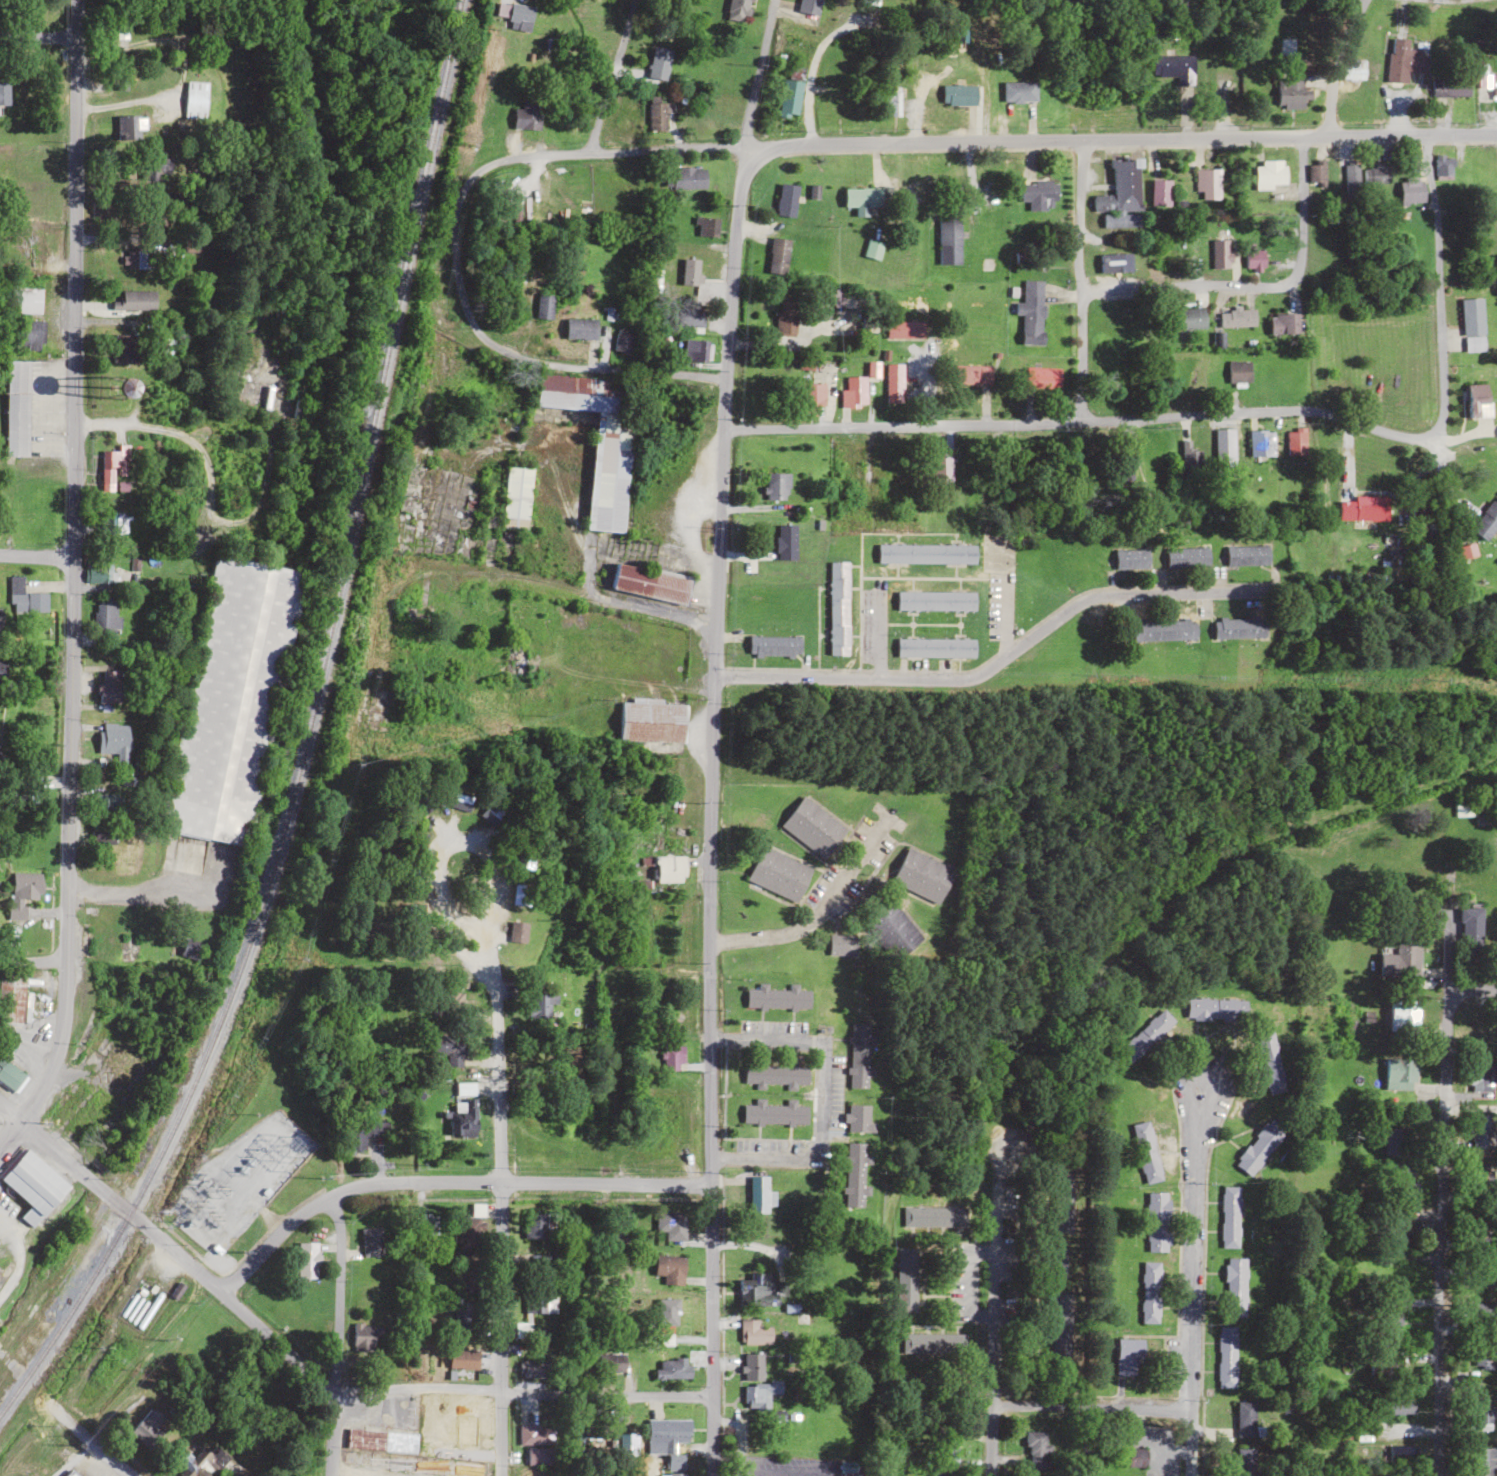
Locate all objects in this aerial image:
building: (868, 3)
building: (809, 6)
building: (738, 10)
building: (520, 17)
road: (37, 35)
building: (1402, 63)
building: (659, 64)
road: (1331, 64)
building: (1174, 68)
building: (1353, 70)
road: (610, 76)
building: (795, 78)
building: (1452, 86)
building: (1019, 92)
building: (4, 93)
building: (1290, 93)
building: (959, 95)
building: (195, 100)
building: (890, 101)
building: (658, 114)
building: (527, 116)
building: (618, 125)
building: (127, 127)
road: (1118, 139)
building: (1444, 165)
building: (1317, 174)
building: (1270, 175)
building: (1377, 175)
building: (688, 178)
building: (1351, 180)
building: (1207, 185)
building: (1122, 188)
building: (1412, 190)
building: (1161, 193)
building: (1039, 195)
building: (865, 197)
building: (786, 201)
building: (1122, 220)
building: (706, 227)
building: (949, 236)
road: (452, 245)
building: (872, 250)
building: (1220, 255)
building: (778, 257)
building: (132, 259)
building: (1254, 260)
road: (1078, 280)
road: (1257, 285)
building: (131, 291)
building: (25, 300)
building: (848, 300)
building: (1032, 313)
building: (690, 318)
building: (786, 318)
building: (1191, 318)
building: (1237, 318)
building: (542, 319)
building: (1284, 324)
building: (1473, 325)
building: (580, 329)
building: (904, 330)
building: (27, 335)
building: (622, 343)
building: (121, 349)
building: (697, 351)
building: (1240, 372)
building: (973, 375)
building: (1042, 378)
building: (894, 384)
building: (854, 393)
building: (578, 394)
building: (812, 395)
building: (1479, 401)
building: (16, 409)
road: (1229, 412)
building: (1225, 444)
building: (1261, 444)
building: (1190, 445)
building: (1493, 450)
building: (852, 456)
building: (884, 458)
building: (1124, 465)
building: (114, 469)
building: (516, 492)
building: (607, 504)
building: (1364, 508)
building: (1488, 520)
building: (786, 541)
building: (926, 552)
building: (1247, 554)
road: (36, 556)
building: (1187, 556)
building: (1132, 558)
road: (71, 579)
building: (650, 582)
building: (25, 596)
building: (936, 600)
building: (838, 607)
building: (106, 612)
building: (418, 614)
building: (1239, 627)
building: (1164, 628)
road: (874, 632)
building: (774, 644)
building: (935, 646)
building: (517, 657)
road: (995, 662)
building: (3, 671)
building: (110, 686)
building: (652, 720)
railway: (304, 733)
road: (712, 735)
building: (114, 740)
railway: (313, 741)
building: (462, 799)
building: (105, 802)
building: (1462, 806)
building: (491, 814)
building: (813, 827)
building: (661, 869)
building: (779, 873)
building: (922, 875)
building: (24, 889)
road: (818, 908)
building: (890, 926)
building: (1471, 935)
building: (843, 944)
building: (123, 948)
building: (1402, 958)
road: (32, 961)
building: (15, 991)
road: (1465, 992)
building: (777, 997)
building: (452, 998)
building: (543, 1006)
building: (1216, 1008)
building: (1403, 1014)
building: (1146, 1035)
building: (447, 1046)
building: (859, 1055)
building: (672, 1058)
building: (1270, 1062)
building: (776, 1074)
building: (1400, 1074)
building: (1483, 1076)
road: (818, 1095)
building: (775, 1112)
building: (465, 1117)
building: (859, 1118)
building: (363, 1132)
building: (1482, 1132)
building: (1397, 1143)
building: (1259, 1146)
road: (1432, 1149)
building: (1146, 1151)
road: (64, 1156)
building: (855, 1174)
road: (445, 1183)
building: (33, 1185)
building: (758, 1191)
building: (1063, 1201)
road: (498, 1206)
building: (1230, 1216)
building: (934, 1217)
building: (1158, 1221)
building: (670, 1224)
building: (534, 1225)
building: (618, 1231)
building: (468, 1232)
building: (371, 1241)
building: (307, 1260)
building: (1057, 1264)
road: (995, 1266)
building: (907, 1280)
road: (1191, 1287)
building: (1235, 1287)
building: (756, 1288)
building: (669, 1290)
building: (1150, 1292)
building: (540, 1300)
building: (466, 1317)
building: (1060, 1323)
building: (520, 1330)
building: (754, 1332)
road: (334, 1335)
building: (364, 1337)
building: (926, 1344)
road: (4, 1355)
building: (1128, 1355)
building: (1226, 1357)
building: (1484, 1357)
building: (463, 1358)
building: (534, 1368)
building: (672, 1368)
building: (756, 1381)
road: (383, 1395)
building: (1399, 1406)
road: (1089, 1407)
building: (1483, 1412)
building: (1245, 1419)
building: (148, 1429)
building: (666, 1434)
building: (535, 1435)
building: (380, 1439)
road: (988, 1440)
building: (946, 1447)
building: (1035, 1453)
road: (116, 1455)
building: (540, 1456)
building: (1133, 1456)
building: (1244, 1461)
building: (1485, 1461)
building: (199, 1465)
building: (674, 1466)
building: (71, 1473)

